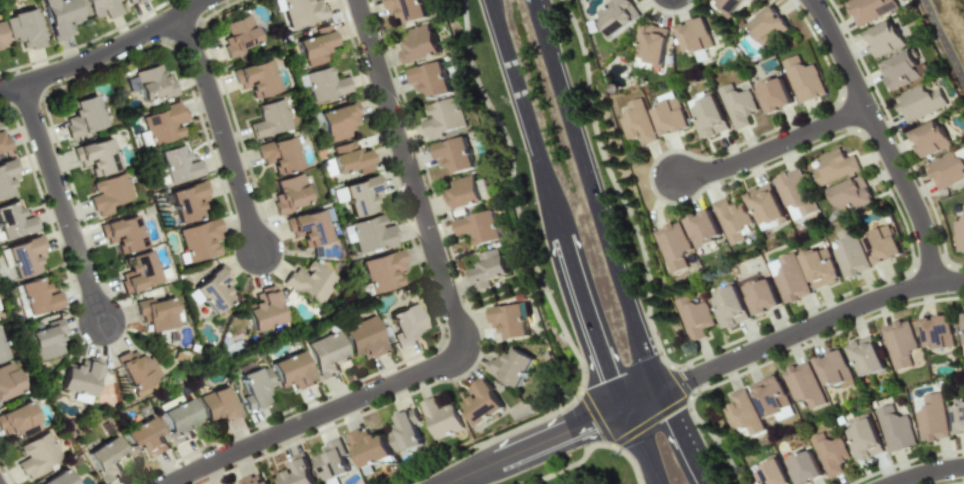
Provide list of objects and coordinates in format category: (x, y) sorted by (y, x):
building: (132, 1)
building: (726, 6)
building: (103, 7)
building: (869, 9)
building: (409, 10)
building: (303, 11)
building: (60, 16)
building: (615, 16)
street lamp: (135, 23)
building: (767, 27)
building: (23, 28)
building: (239, 35)
building: (695, 36)
building: (1, 38)
building: (884, 38)
road: (943, 42)
building: (419, 43)
building: (314, 44)
building: (651, 44)
road: (104, 51)
building: (902, 68)
building: (256, 78)
building: (802, 79)
building: (430, 80)
building: (152, 82)
building: (326, 83)
building: (773, 95)
building: (919, 102)
building: (737, 105)
building: (82, 116)
building: (708, 116)
building: (443, 117)
building: (670, 117)
building: (269, 118)
building: (338, 121)
building: (164, 122)
building: (637, 122)
road: (223, 131)
road: (879, 137)
building: (929, 138)
building: (4, 142)
road: (771, 143)
building: (279, 154)
building: (453, 154)
building: (96, 155)
building: (347, 159)
building: (175, 164)
building: (834, 165)
building: (946, 168)
building: (8, 176)
building: (466, 192)
building: (793, 193)
building: (110, 194)
building: (290, 194)
building: (358, 195)
road: (600, 195)
building: (849, 195)
building: (188, 200)
road: (63, 203)
road: (547, 205)
building: (763, 206)
building: (730, 219)
building: (14, 220)
building: (310, 226)
building: (477, 228)
building: (701, 228)
building: (959, 230)
building: (122, 232)
building: (370, 234)
building: (199, 239)
building: (881, 244)
building: (671, 245)
building: (849, 253)
building: (23, 256)
building: (818, 266)
building: (490, 269)
building: (140, 271)
building: (382, 272)
building: (788, 278)
building: (310, 282)
building: (211, 289)
road: (509, 289)
building: (36, 296)
building: (759, 296)
building: (729, 307)
building: (264, 310)
building: (158, 311)
building: (694, 316)
building: (510, 320)
building: (404, 324)
road: (813, 324)
building: (962, 330)
road: (460, 331)
building: (937, 331)
building: (46, 337)
building: (364, 337)
building: (899, 343)
building: (2, 350)
building: (327, 354)
building: (865, 358)
building: (511, 365)
building: (137, 368)
building: (833, 369)
building: (291, 371)
traffic signals: (604, 379)
building: (80, 380)
traffic signals: (689, 380)
building: (8, 381)
building: (801, 384)
building: (254, 386)
building: (768, 396)
road: (643, 399)
building: (218, 402)
building: (483, 402)
building: (740, 413)
building: (957, 416)
building: (439, 417)
building: (931, 417)
building: (178, 418)
traffic signals: (682, 418)
building: (18, 420)
traffic signals: (587, 422)
building: (895, 428)
building: (407, 431)
road: (690, 436)
building: (144, 437)
building: (863, 439)
road: (531, 446)
road: (632, 447)
building: (369, 449)
building: (830, 453)
building: (38, 455)
building: (108, 459)
building: (332, 462)
building: (802, 467)
park: (578, 470)
road: (925, 472)
building: (297, 473)
building: (770, 473)
building: (58, 478)
building: (255, 480)

